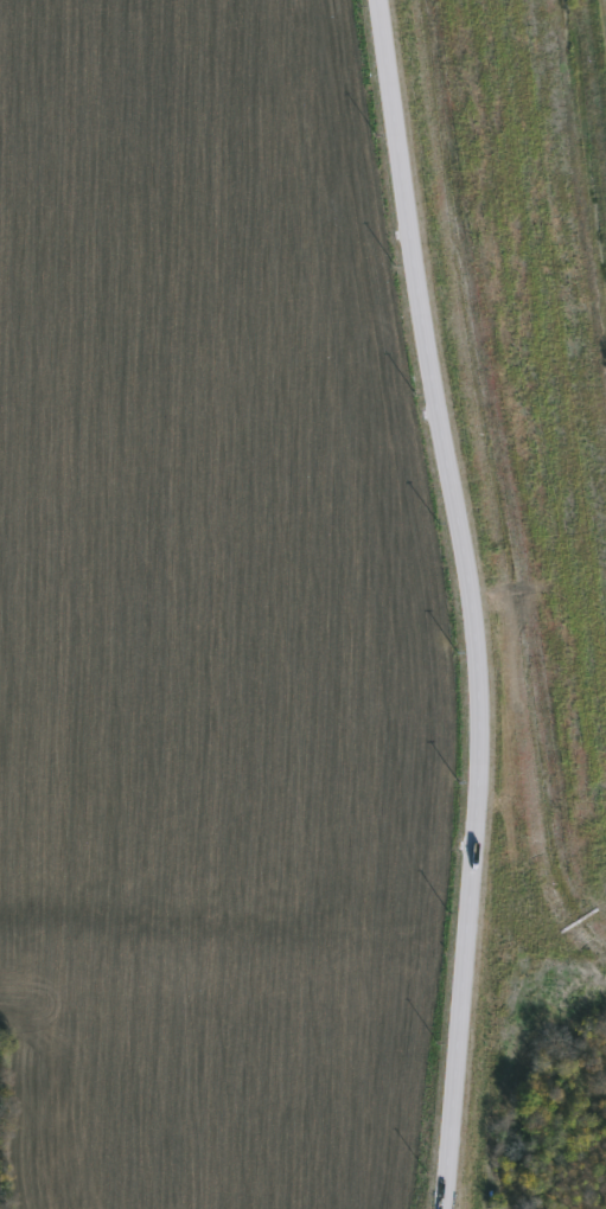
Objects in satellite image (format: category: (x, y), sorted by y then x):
road: (470, 602)

